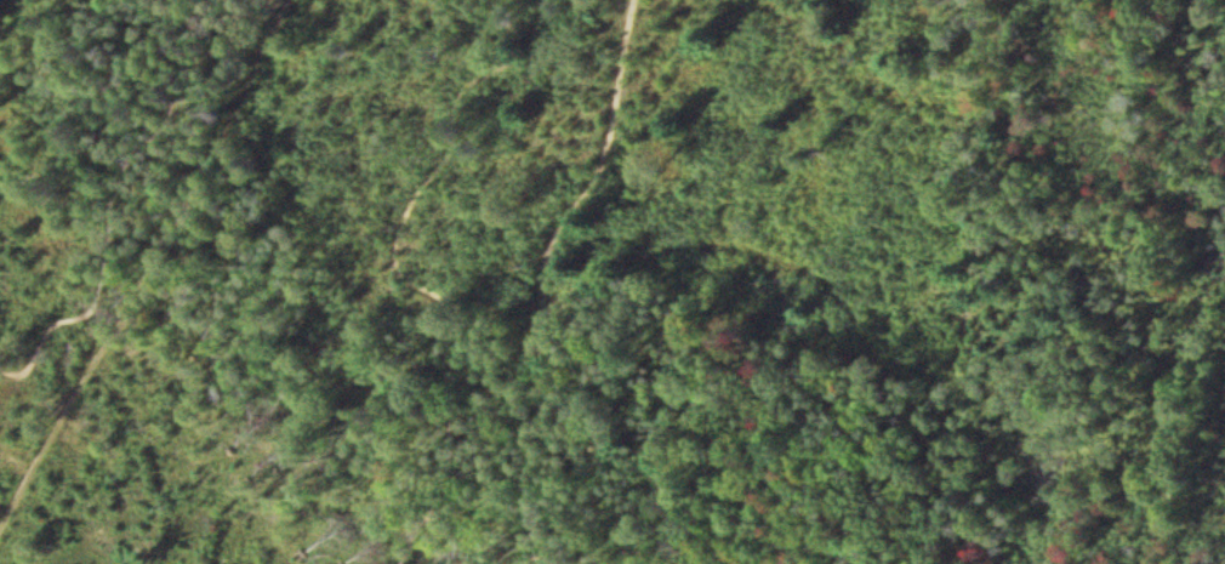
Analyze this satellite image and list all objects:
road: (596, 180)
road: (120, 198)
road: (153, 252)
road: (403, 274)
road: (540, 457)

